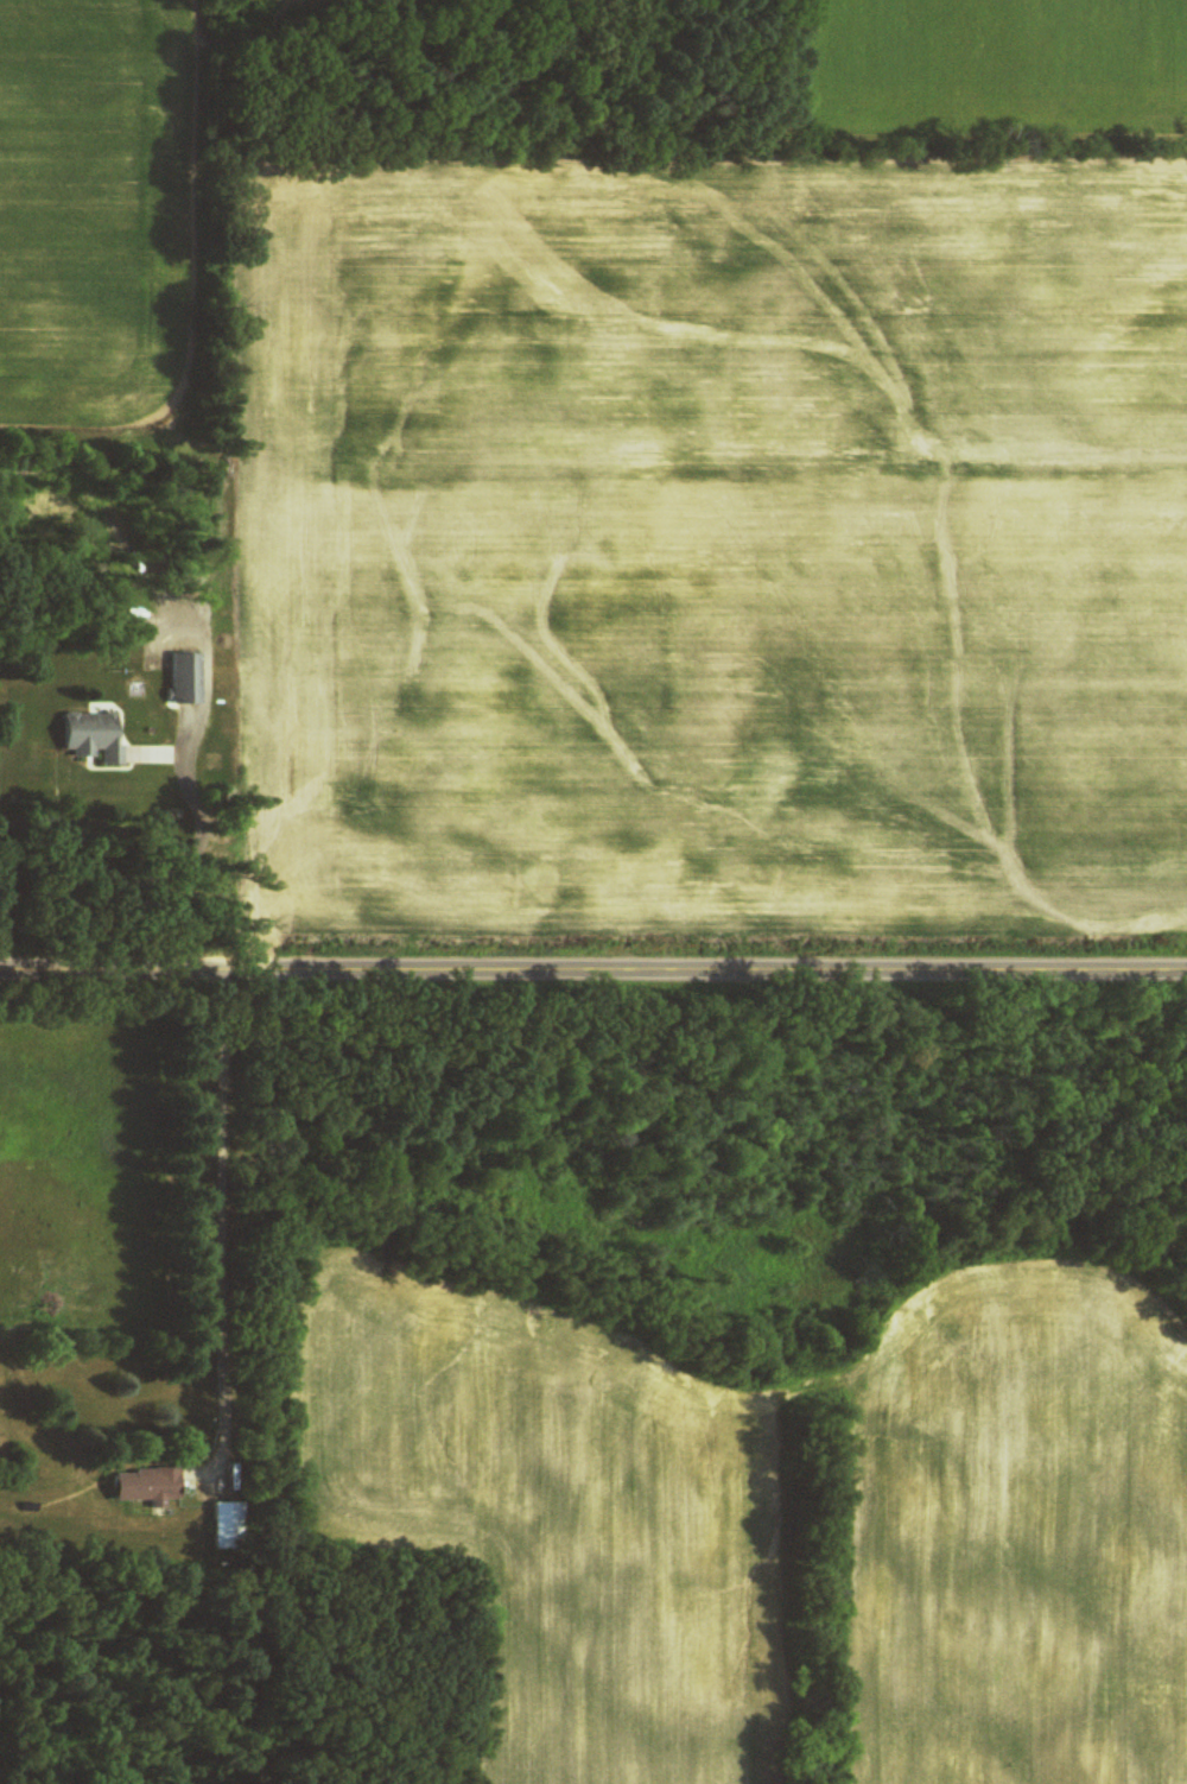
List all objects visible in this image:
building: (186, 679)
building: (94, 736)
road: (182, 848)
road: (593, 964)
road: (231, 1215)
building: (148, 1486)
building: (227, 1526)

